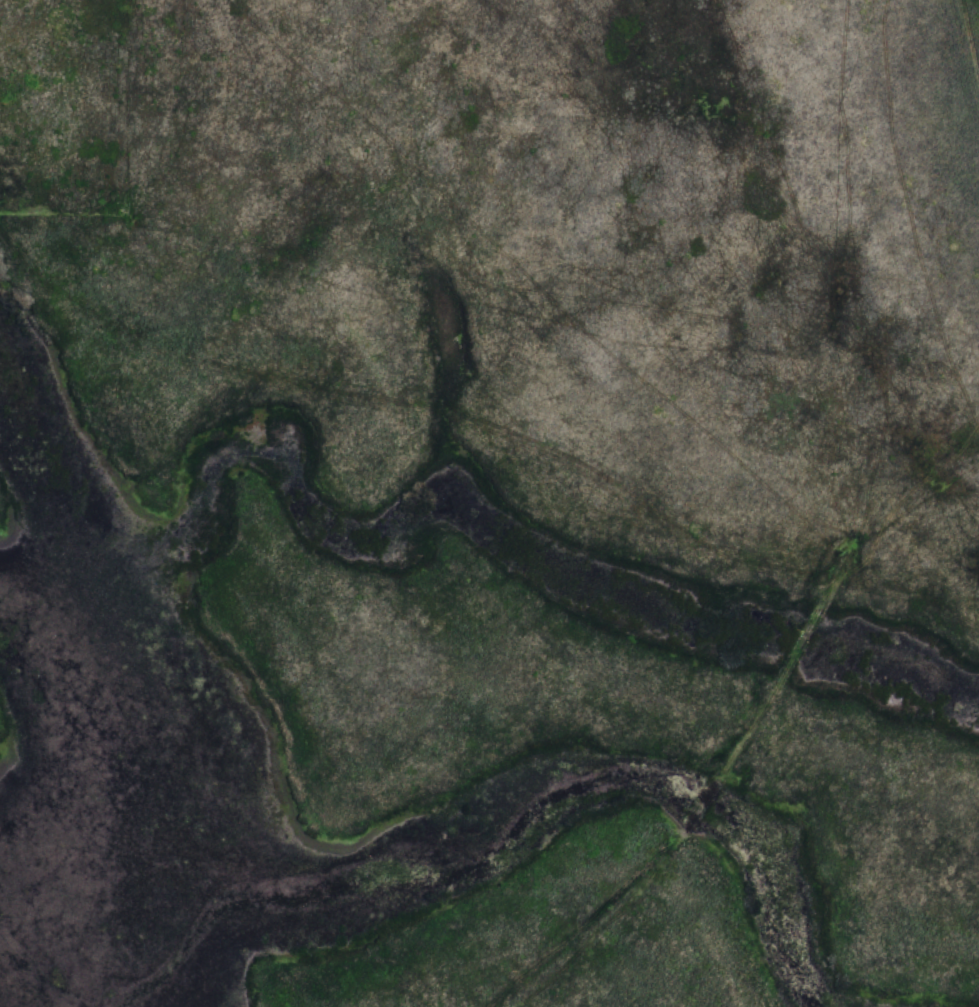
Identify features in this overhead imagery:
crop: (489, 503)

